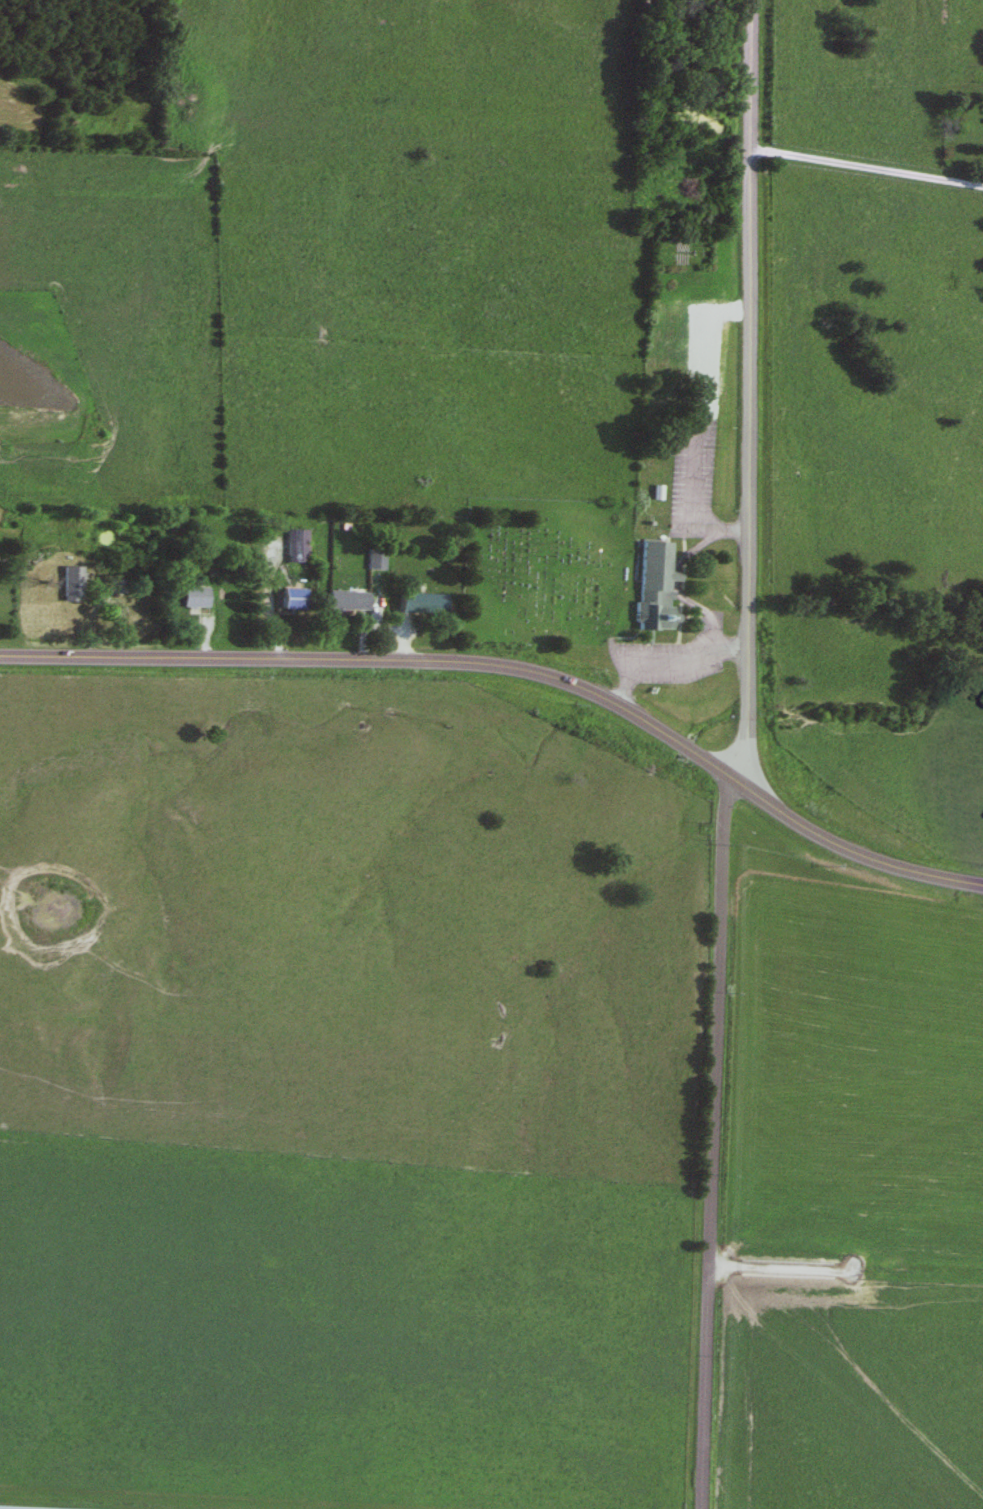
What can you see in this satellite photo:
road: (865, 164)
road: (744, 390)
road: (692, 423)
building: (68, 585)
building: (117, 587)
building: (651, 588)
building: (193, 598)
building: (290, 601)
building: (343, 602)
building: (418, 604)
road: (667, 660)
road: (517, 675)
road: (711, 1143)
road: (6, 1508)

